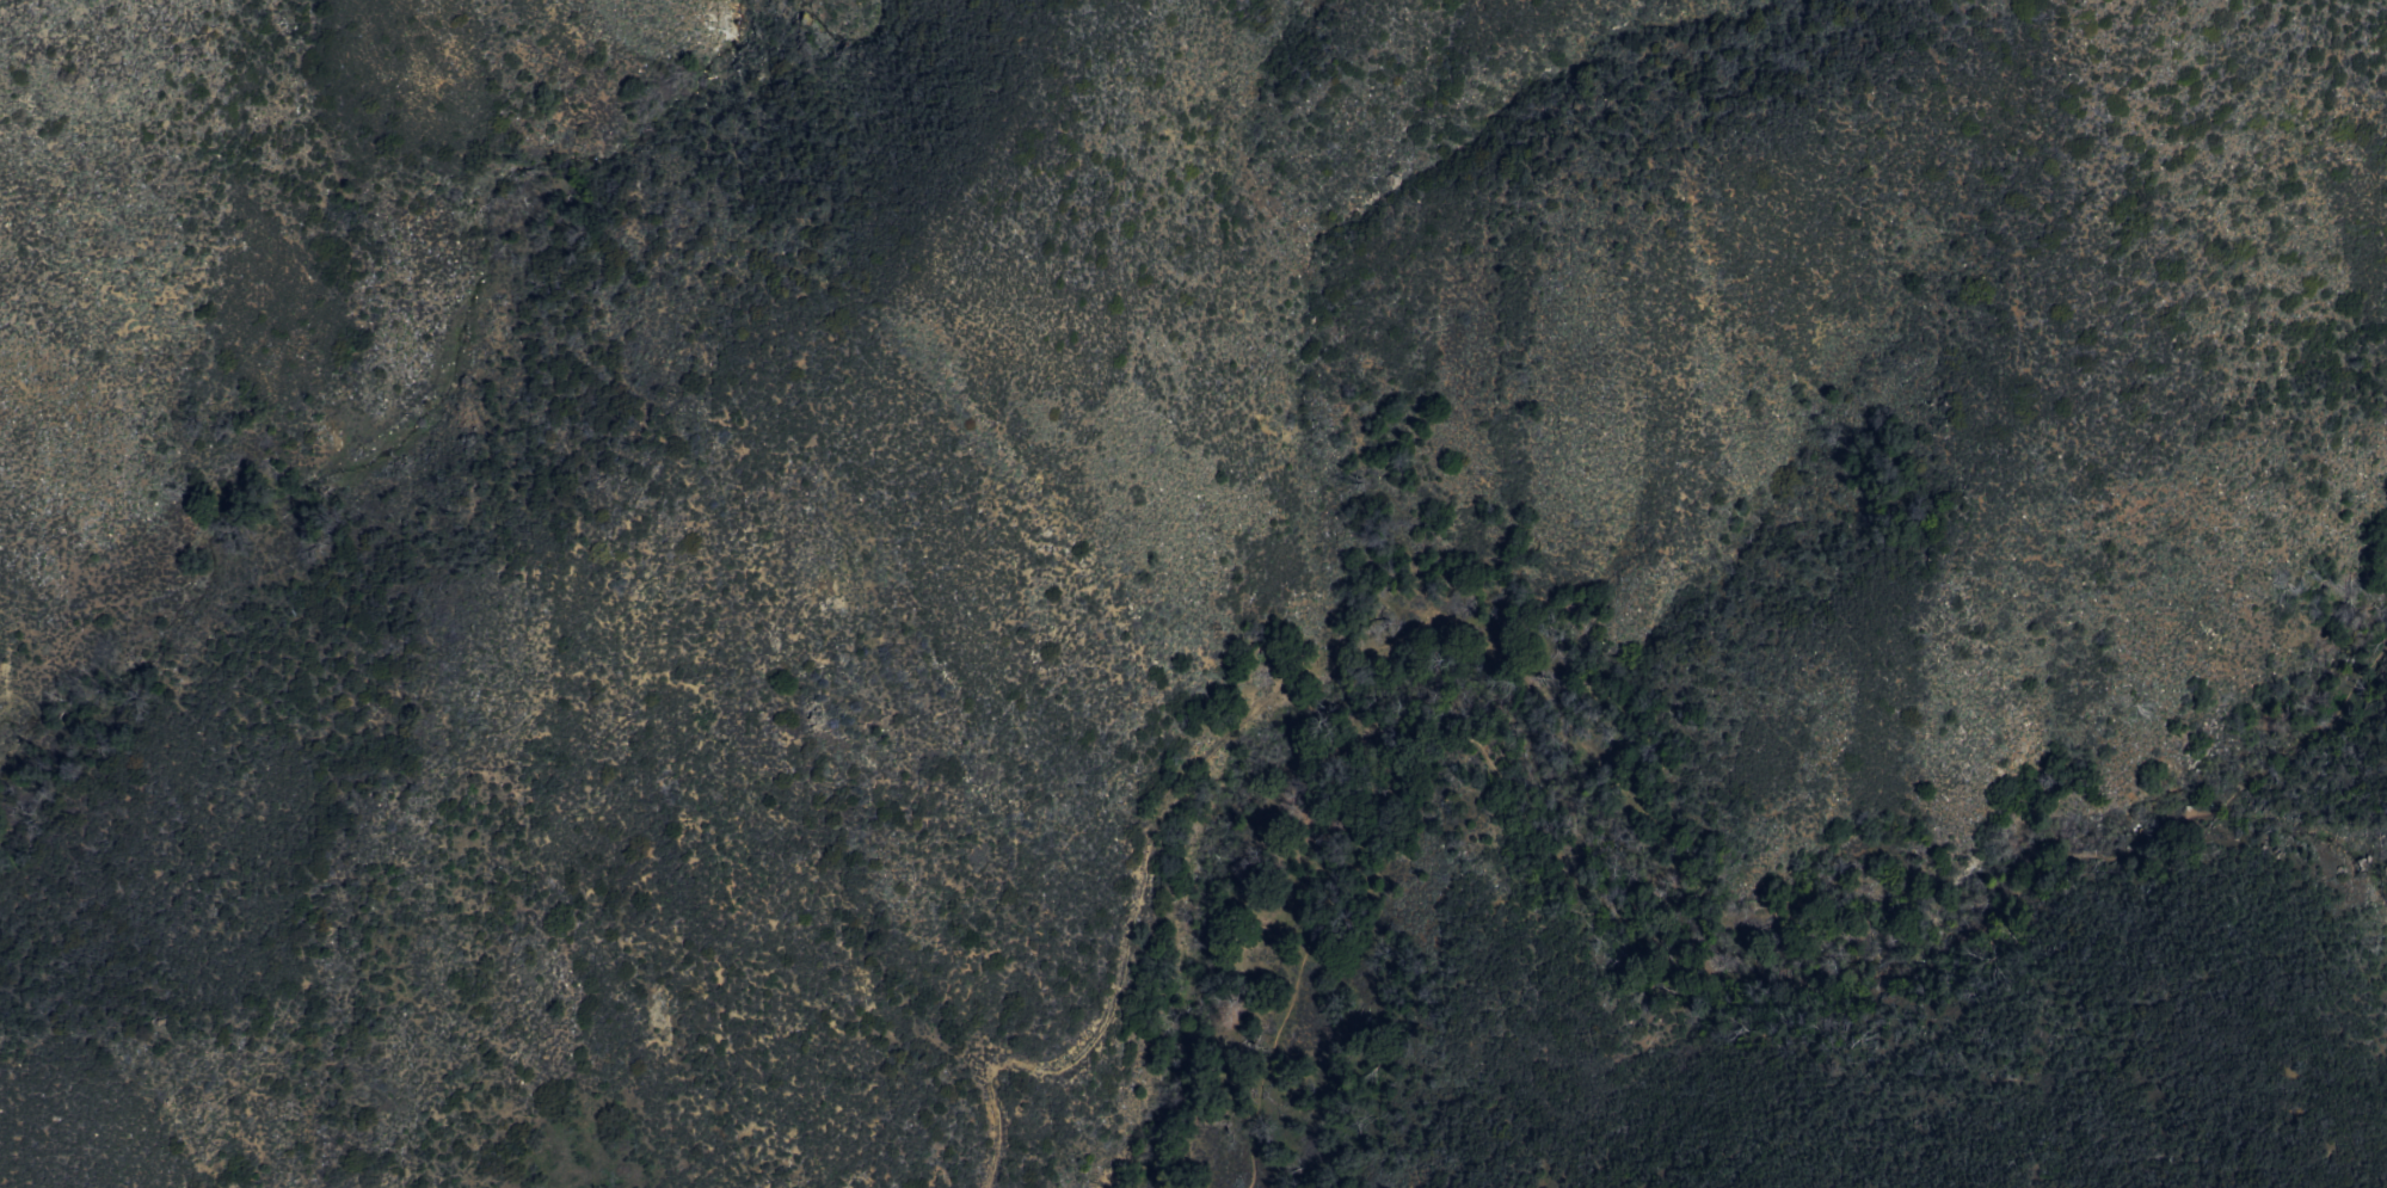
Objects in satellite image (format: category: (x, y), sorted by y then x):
road: (33, 727)
road: (1682, 947)
road: (1100, 1034)

